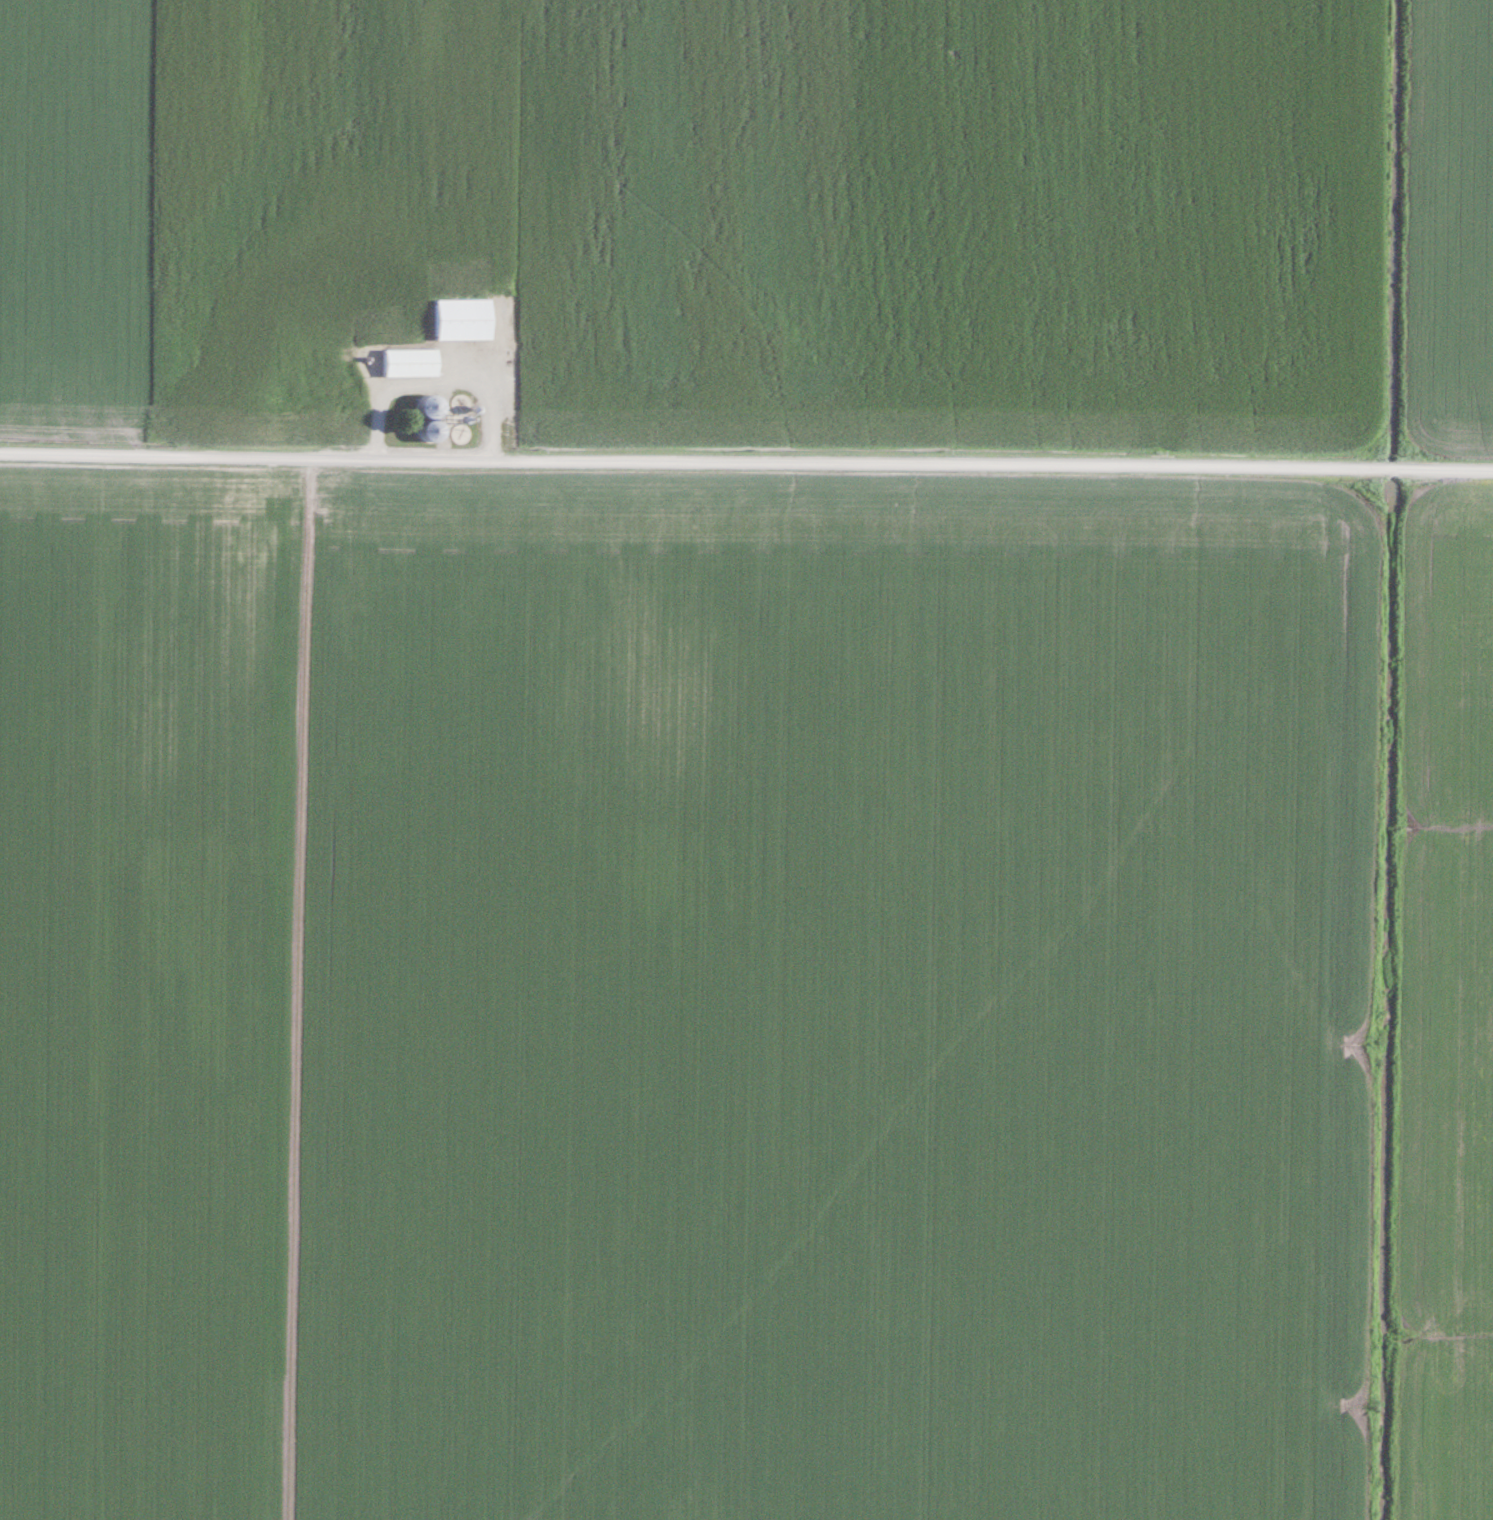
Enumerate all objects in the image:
building: (464, 316)
building: (411, 360)
building: (432, 403)
road: (746, 460)

